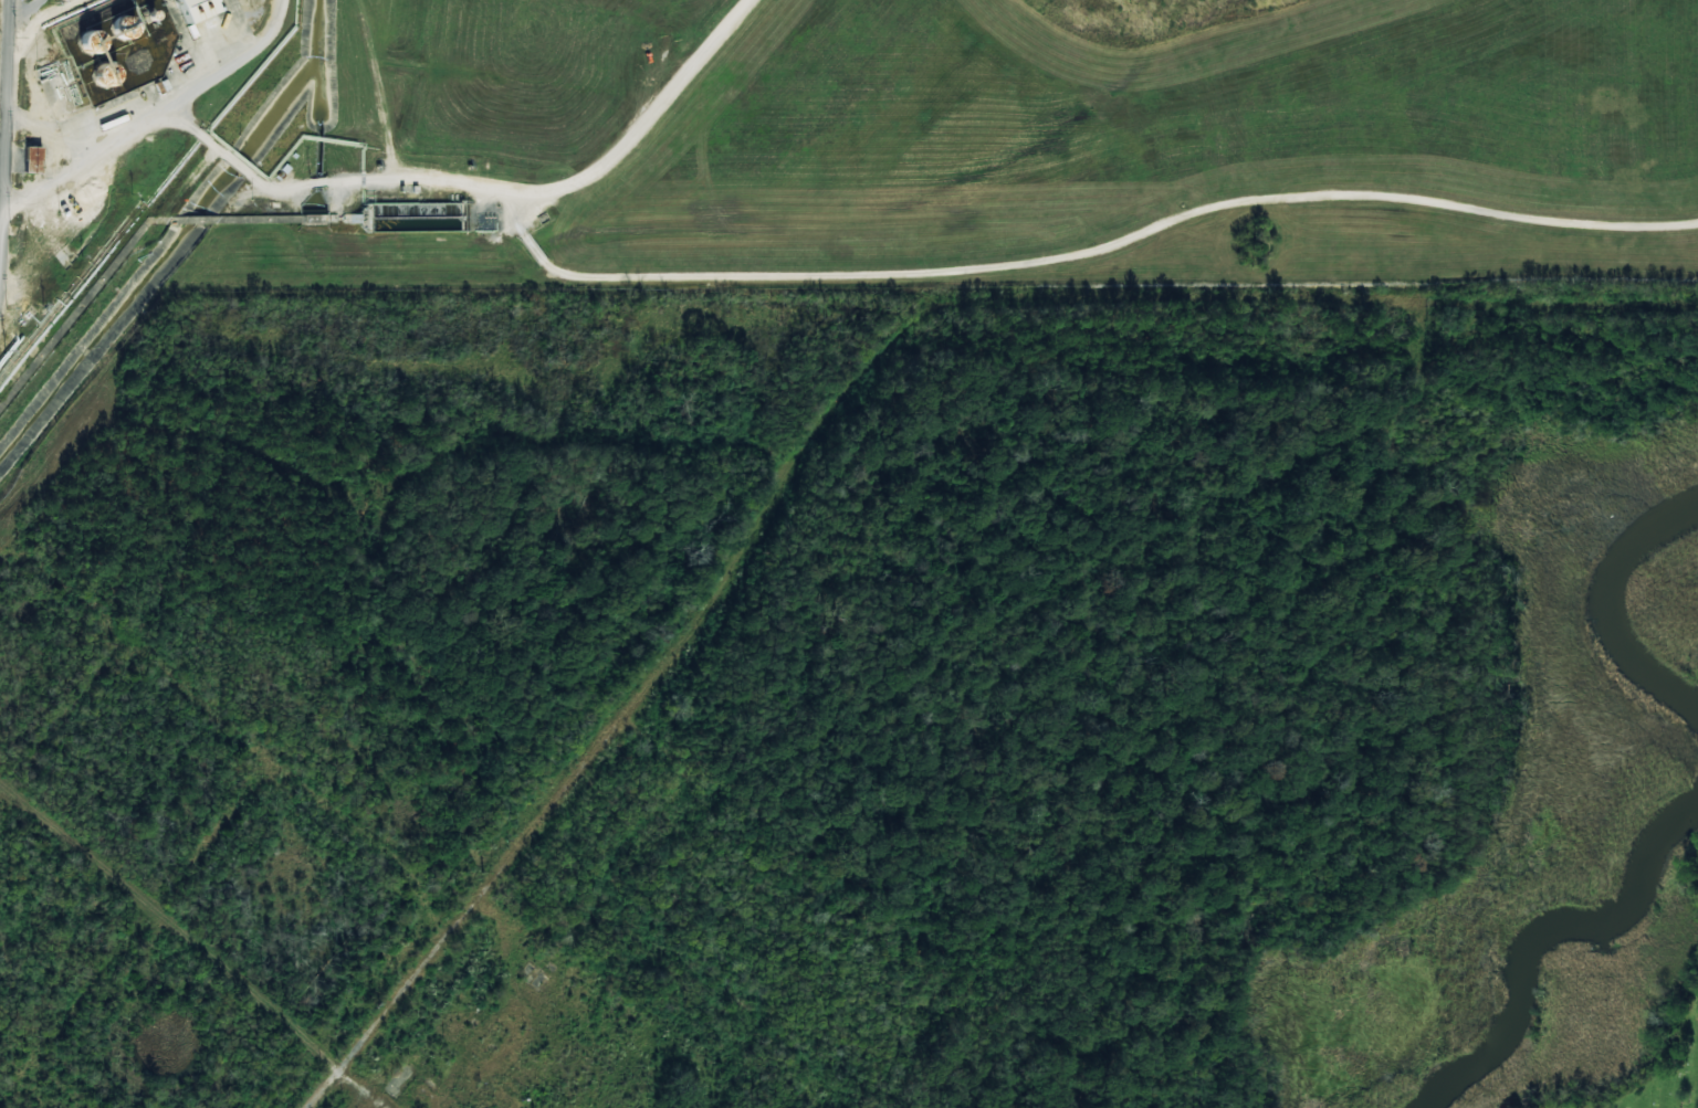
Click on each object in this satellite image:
building: (189, 11)
building: (124, 32)
storage tank: (124, 32)
building: (92, 45)
storage tank: (92, 45)
building: (107, 80)
storage tank: (107, 80)
road: (149, 113)
road: (391, 129)
road: (4, 152)
building: (30, 160)
road: (333, 184)
road: (939, 272)
road: (845, 398)
road: (11, 790)
road: (175, 924)
road: (78, 1000)
park: (1664, 1078)

